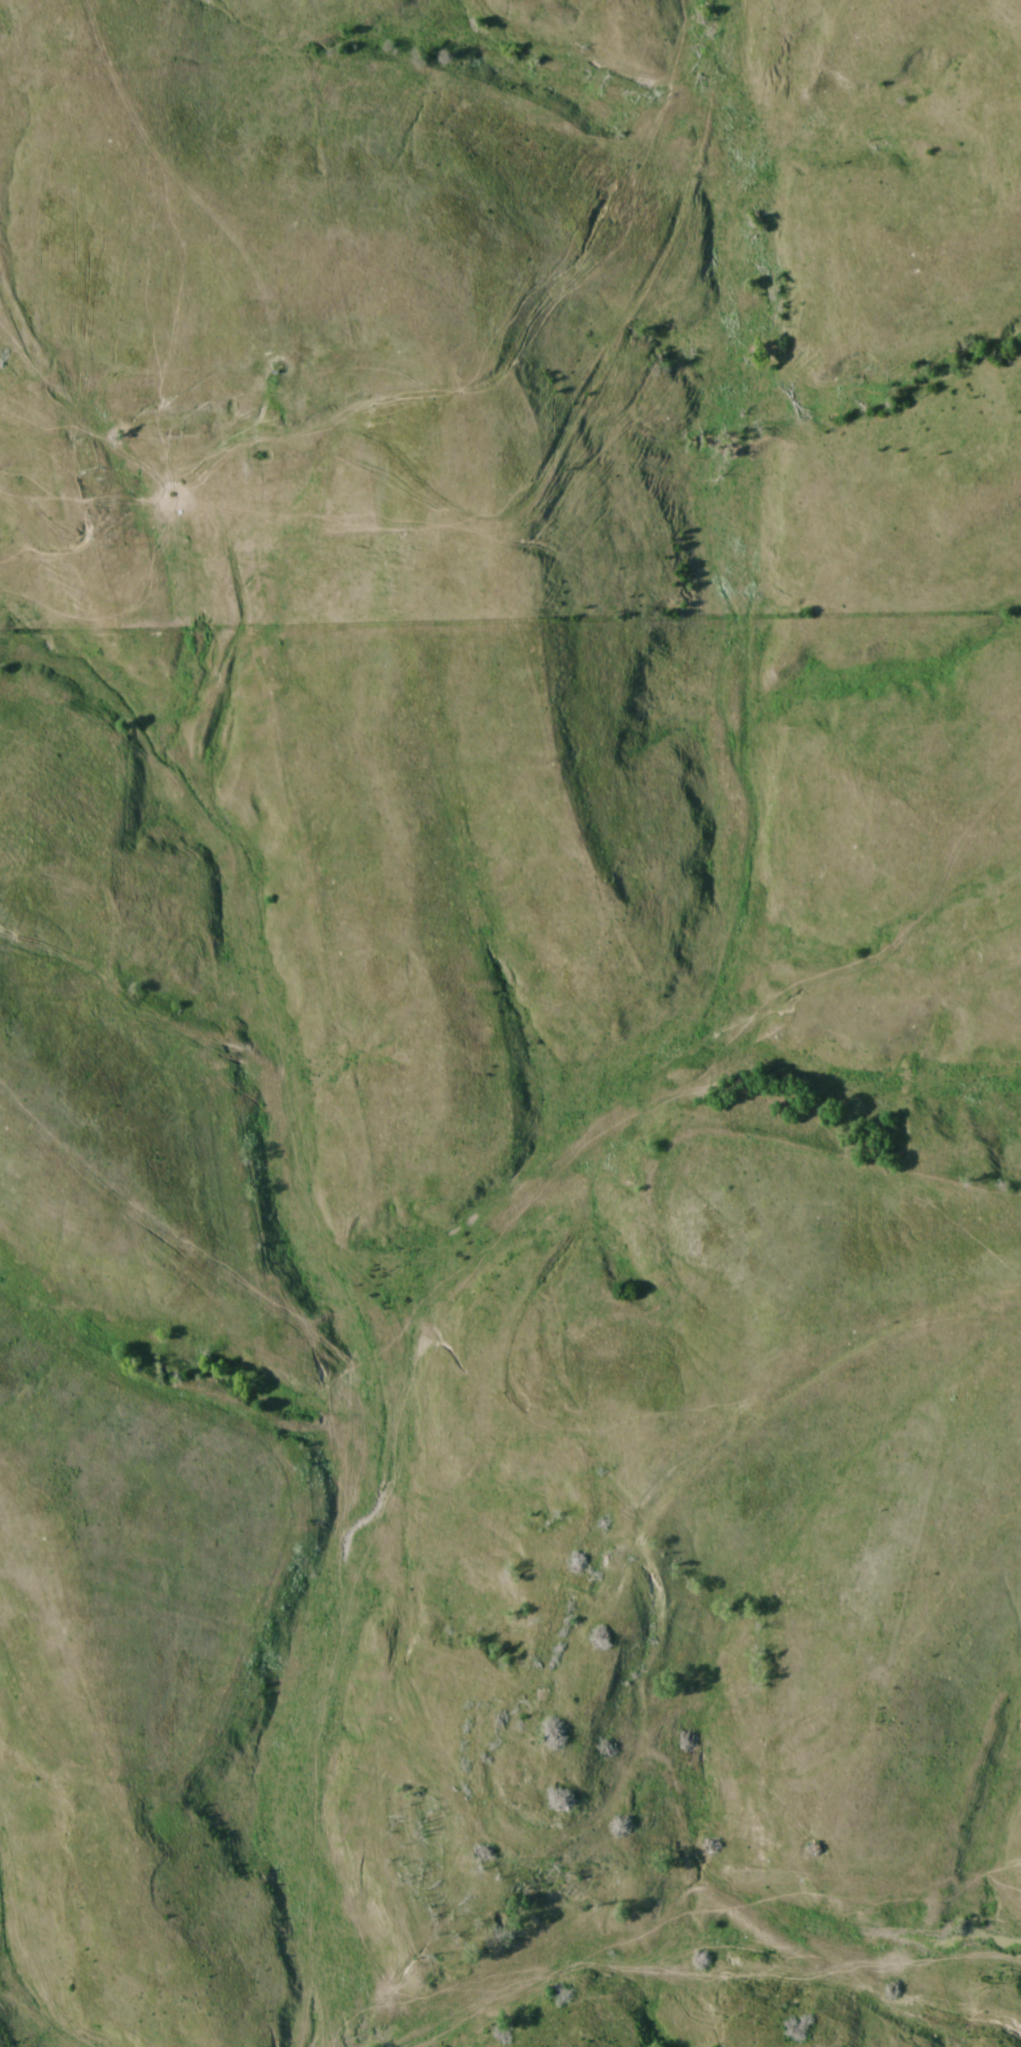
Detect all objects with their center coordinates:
building: (556, 1732)

